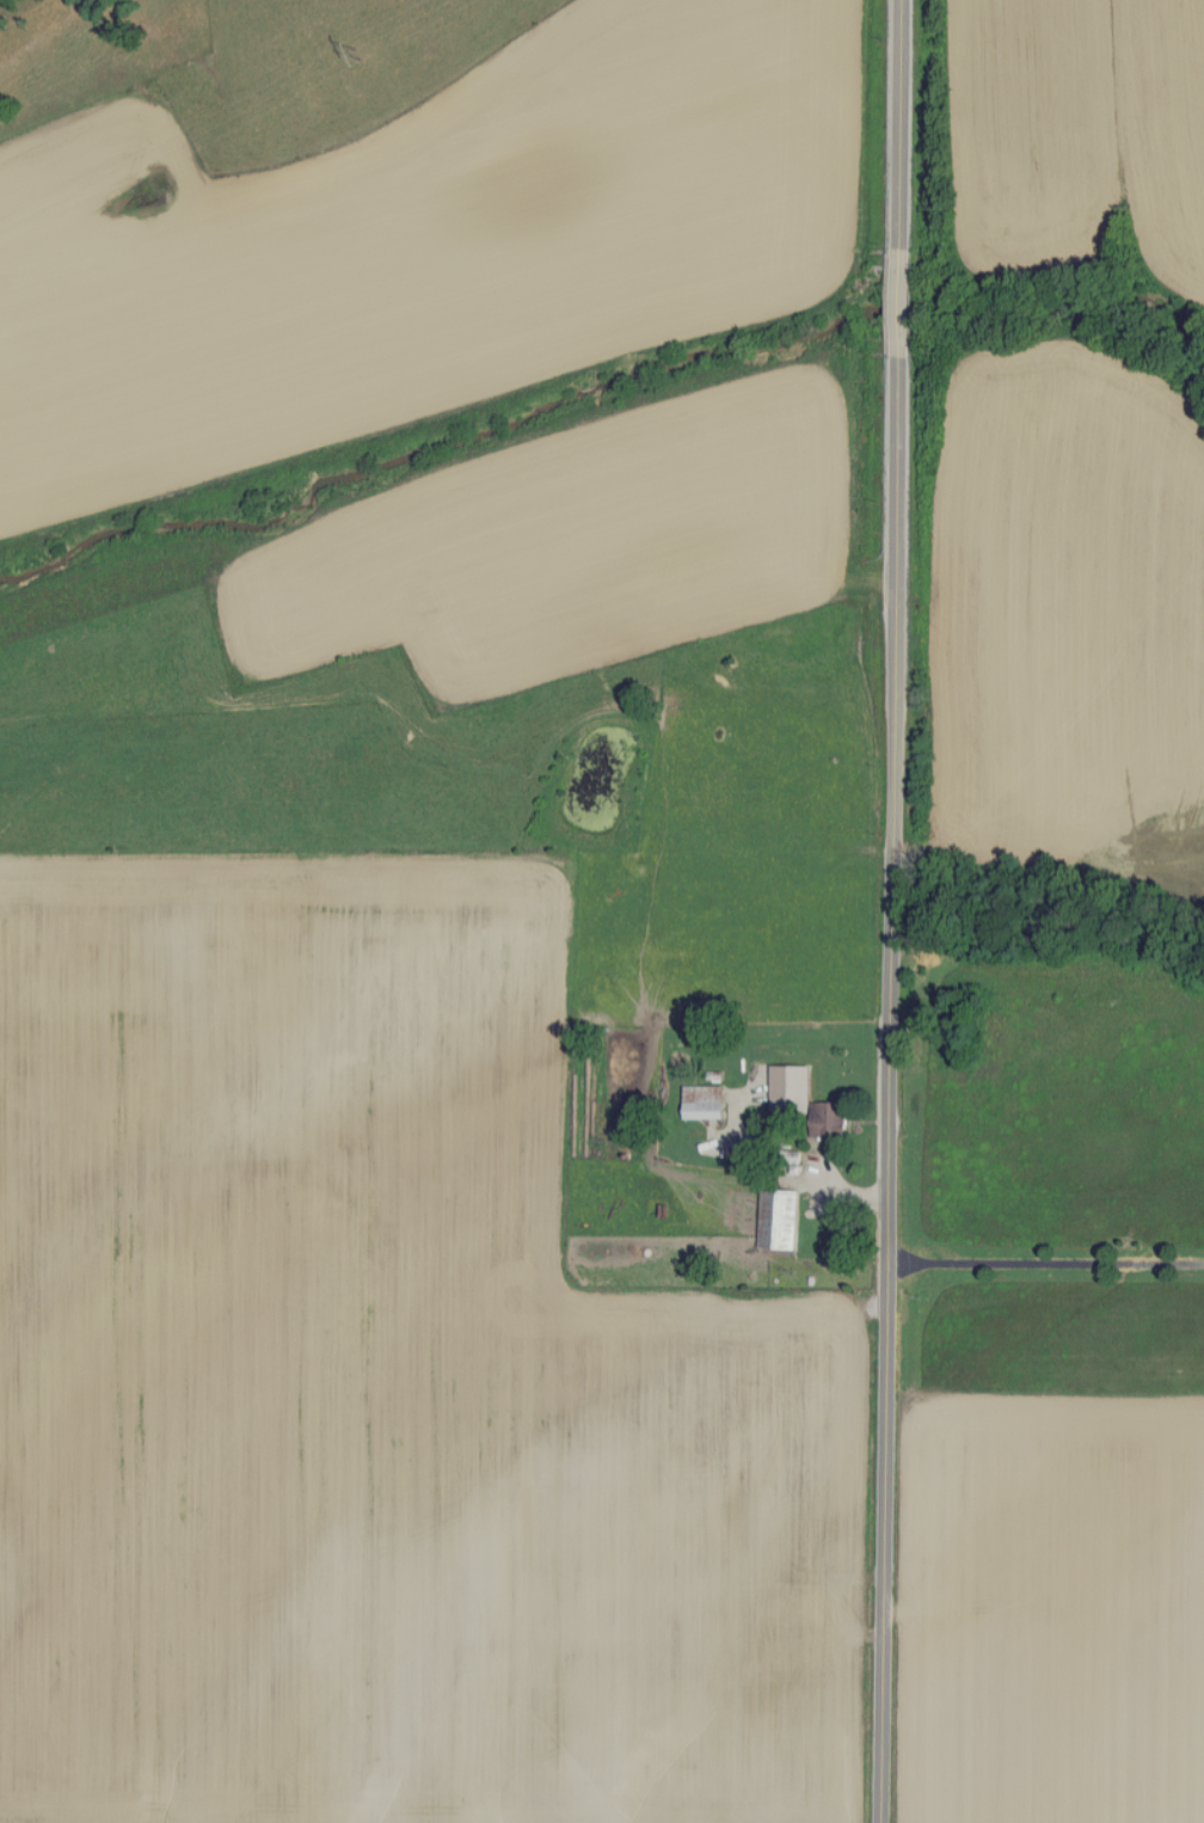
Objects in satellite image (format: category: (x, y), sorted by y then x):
road: (893, 911)
building: (809, 1099)
building: (707, 1103)
building: (782, 1220)
road: (1045, 1266)

